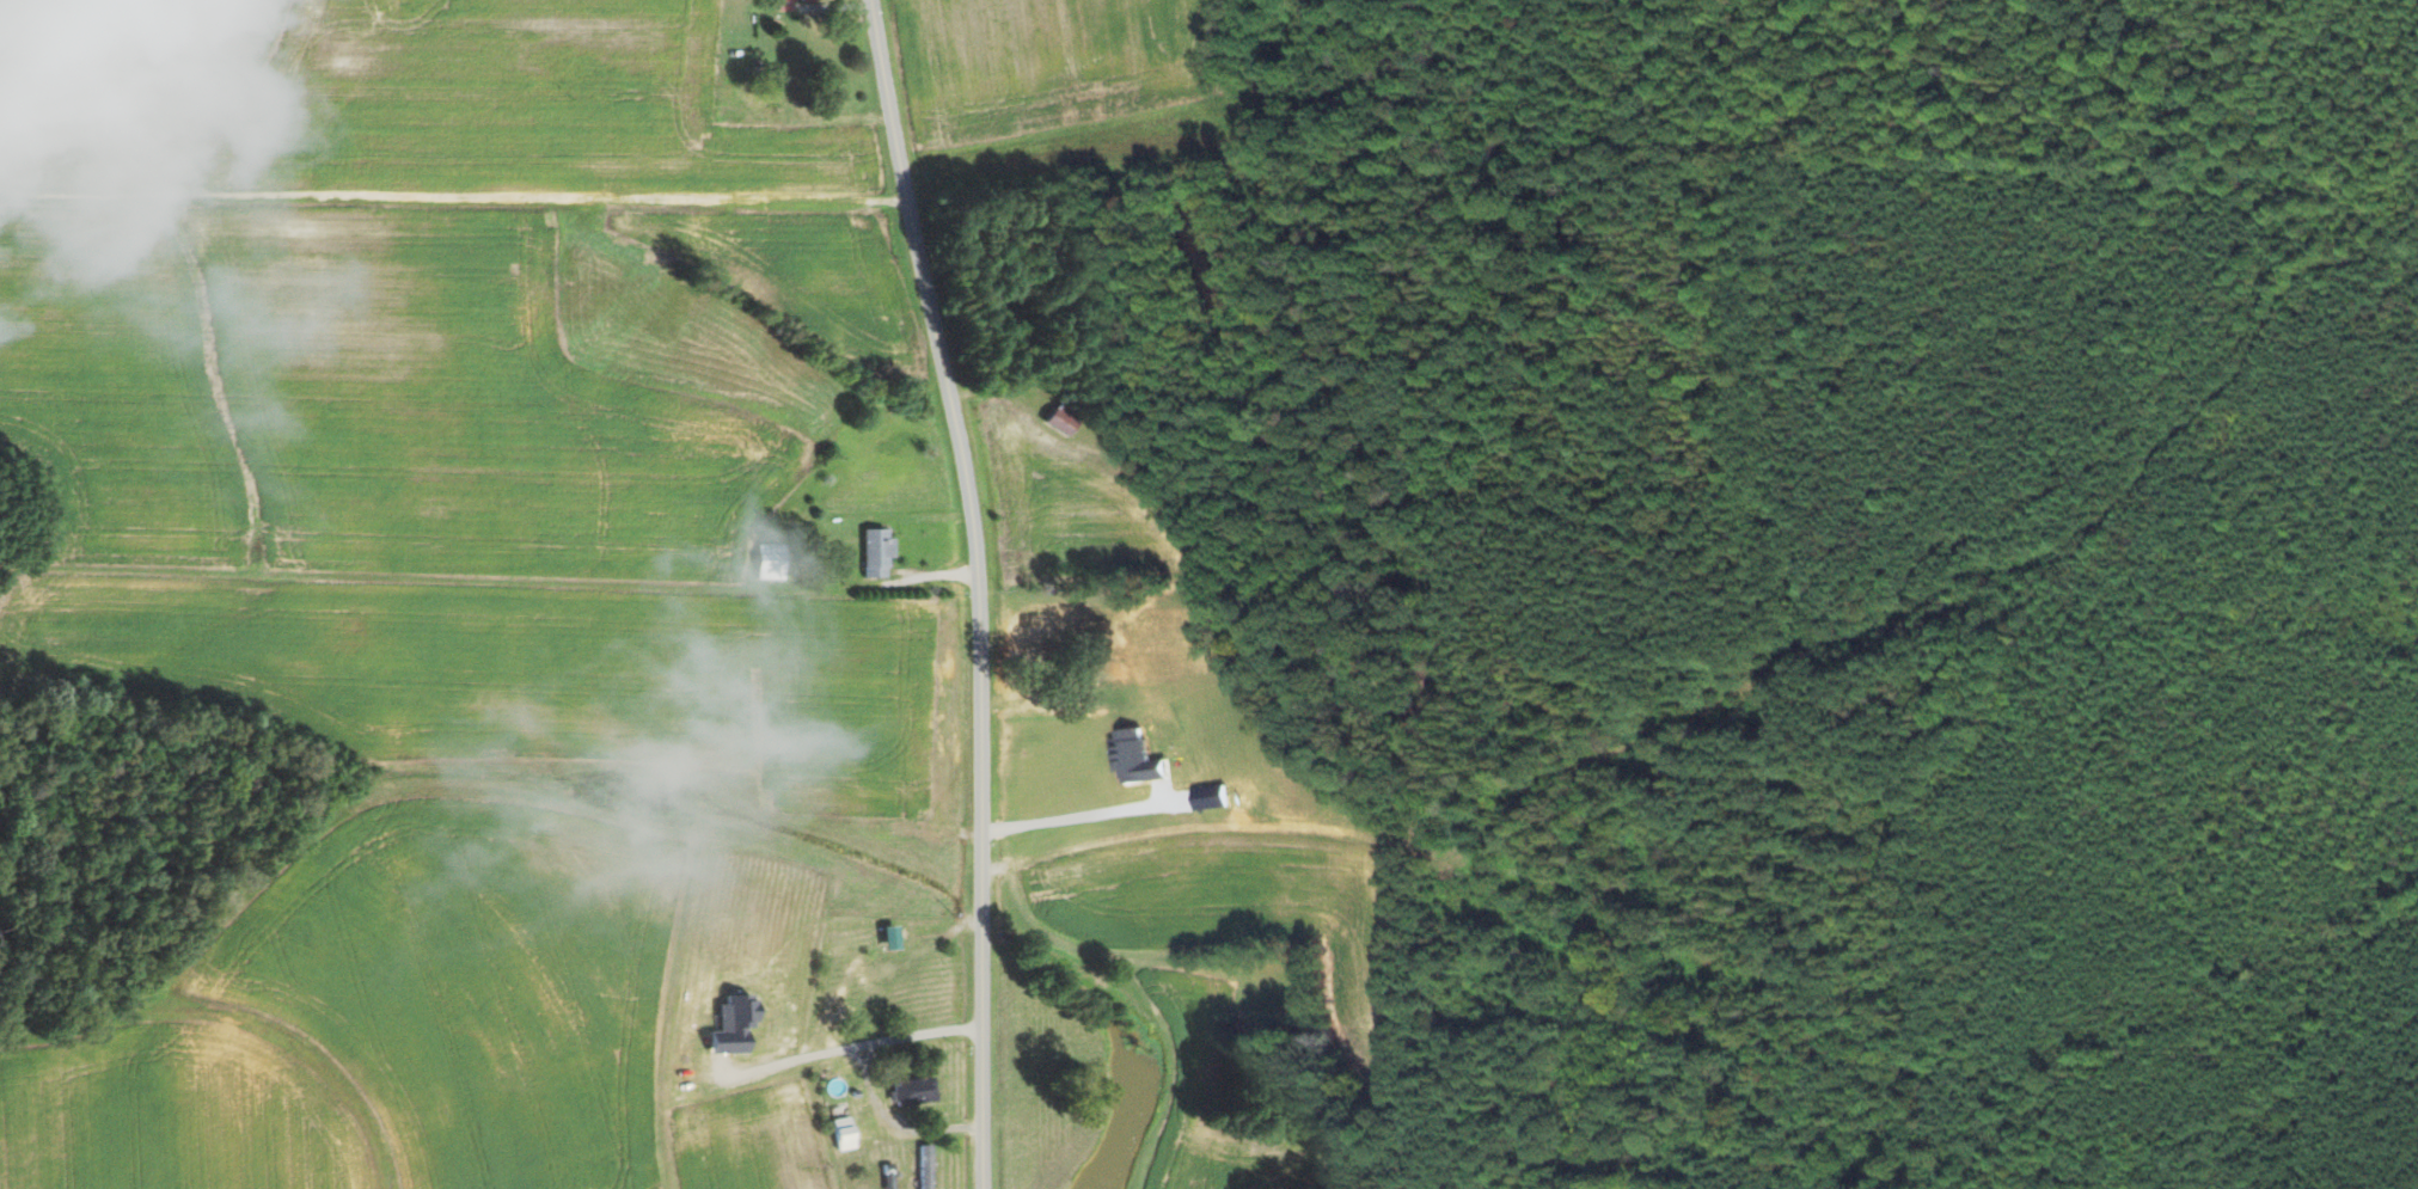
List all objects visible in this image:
building: (791, 5)
building: (1054, 421)
building: (871, 551)
building: (776, 560)
road: (977, 589)
building: (1126, 754)
road: (1265, 832)
building: (883, 937)
building: (727, 1025)
road: (868, 1080)
building: (908, 1090)
building: (839, 1133)
road: (861, 1152)

